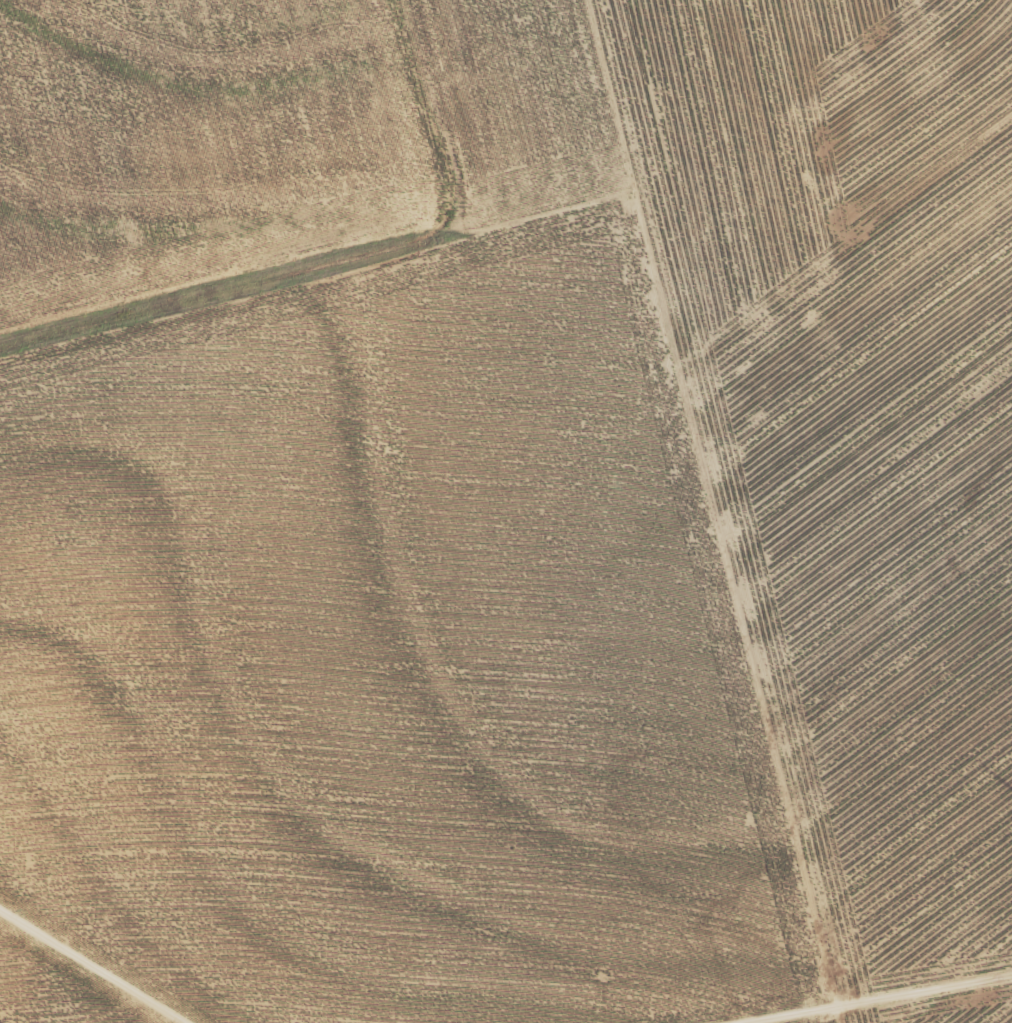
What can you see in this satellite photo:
road: (91, 967)
road: (872, 998)

